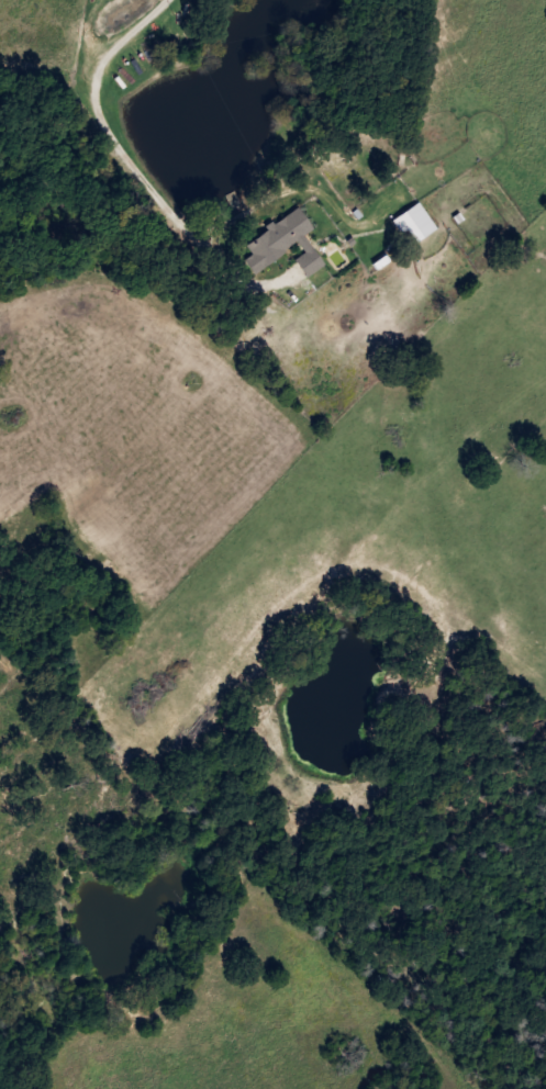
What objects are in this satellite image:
road: (119, 141)
building: (419, 223)
building: (286, 243)

